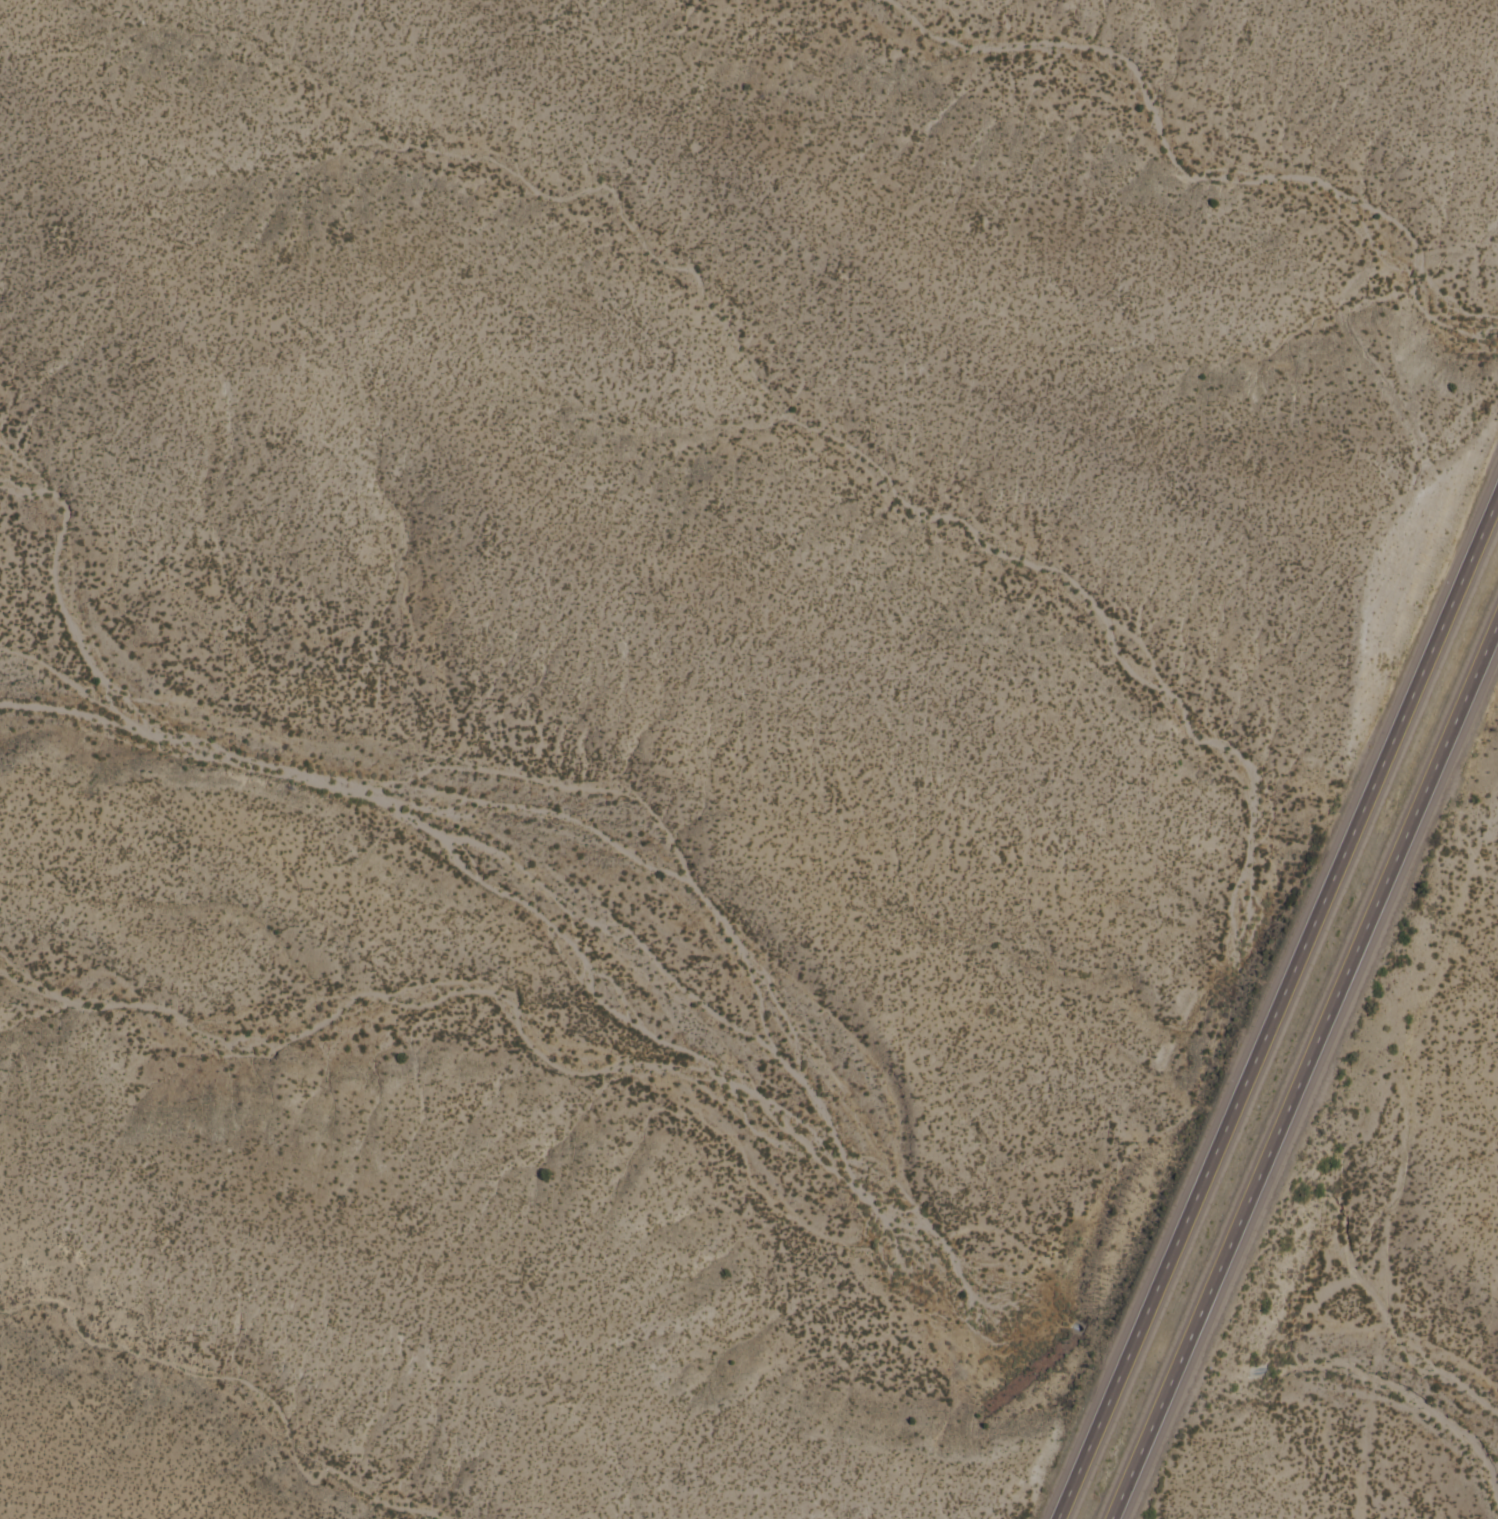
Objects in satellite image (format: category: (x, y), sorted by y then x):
road: (1278, 1007)
road: (1305, 1071)

